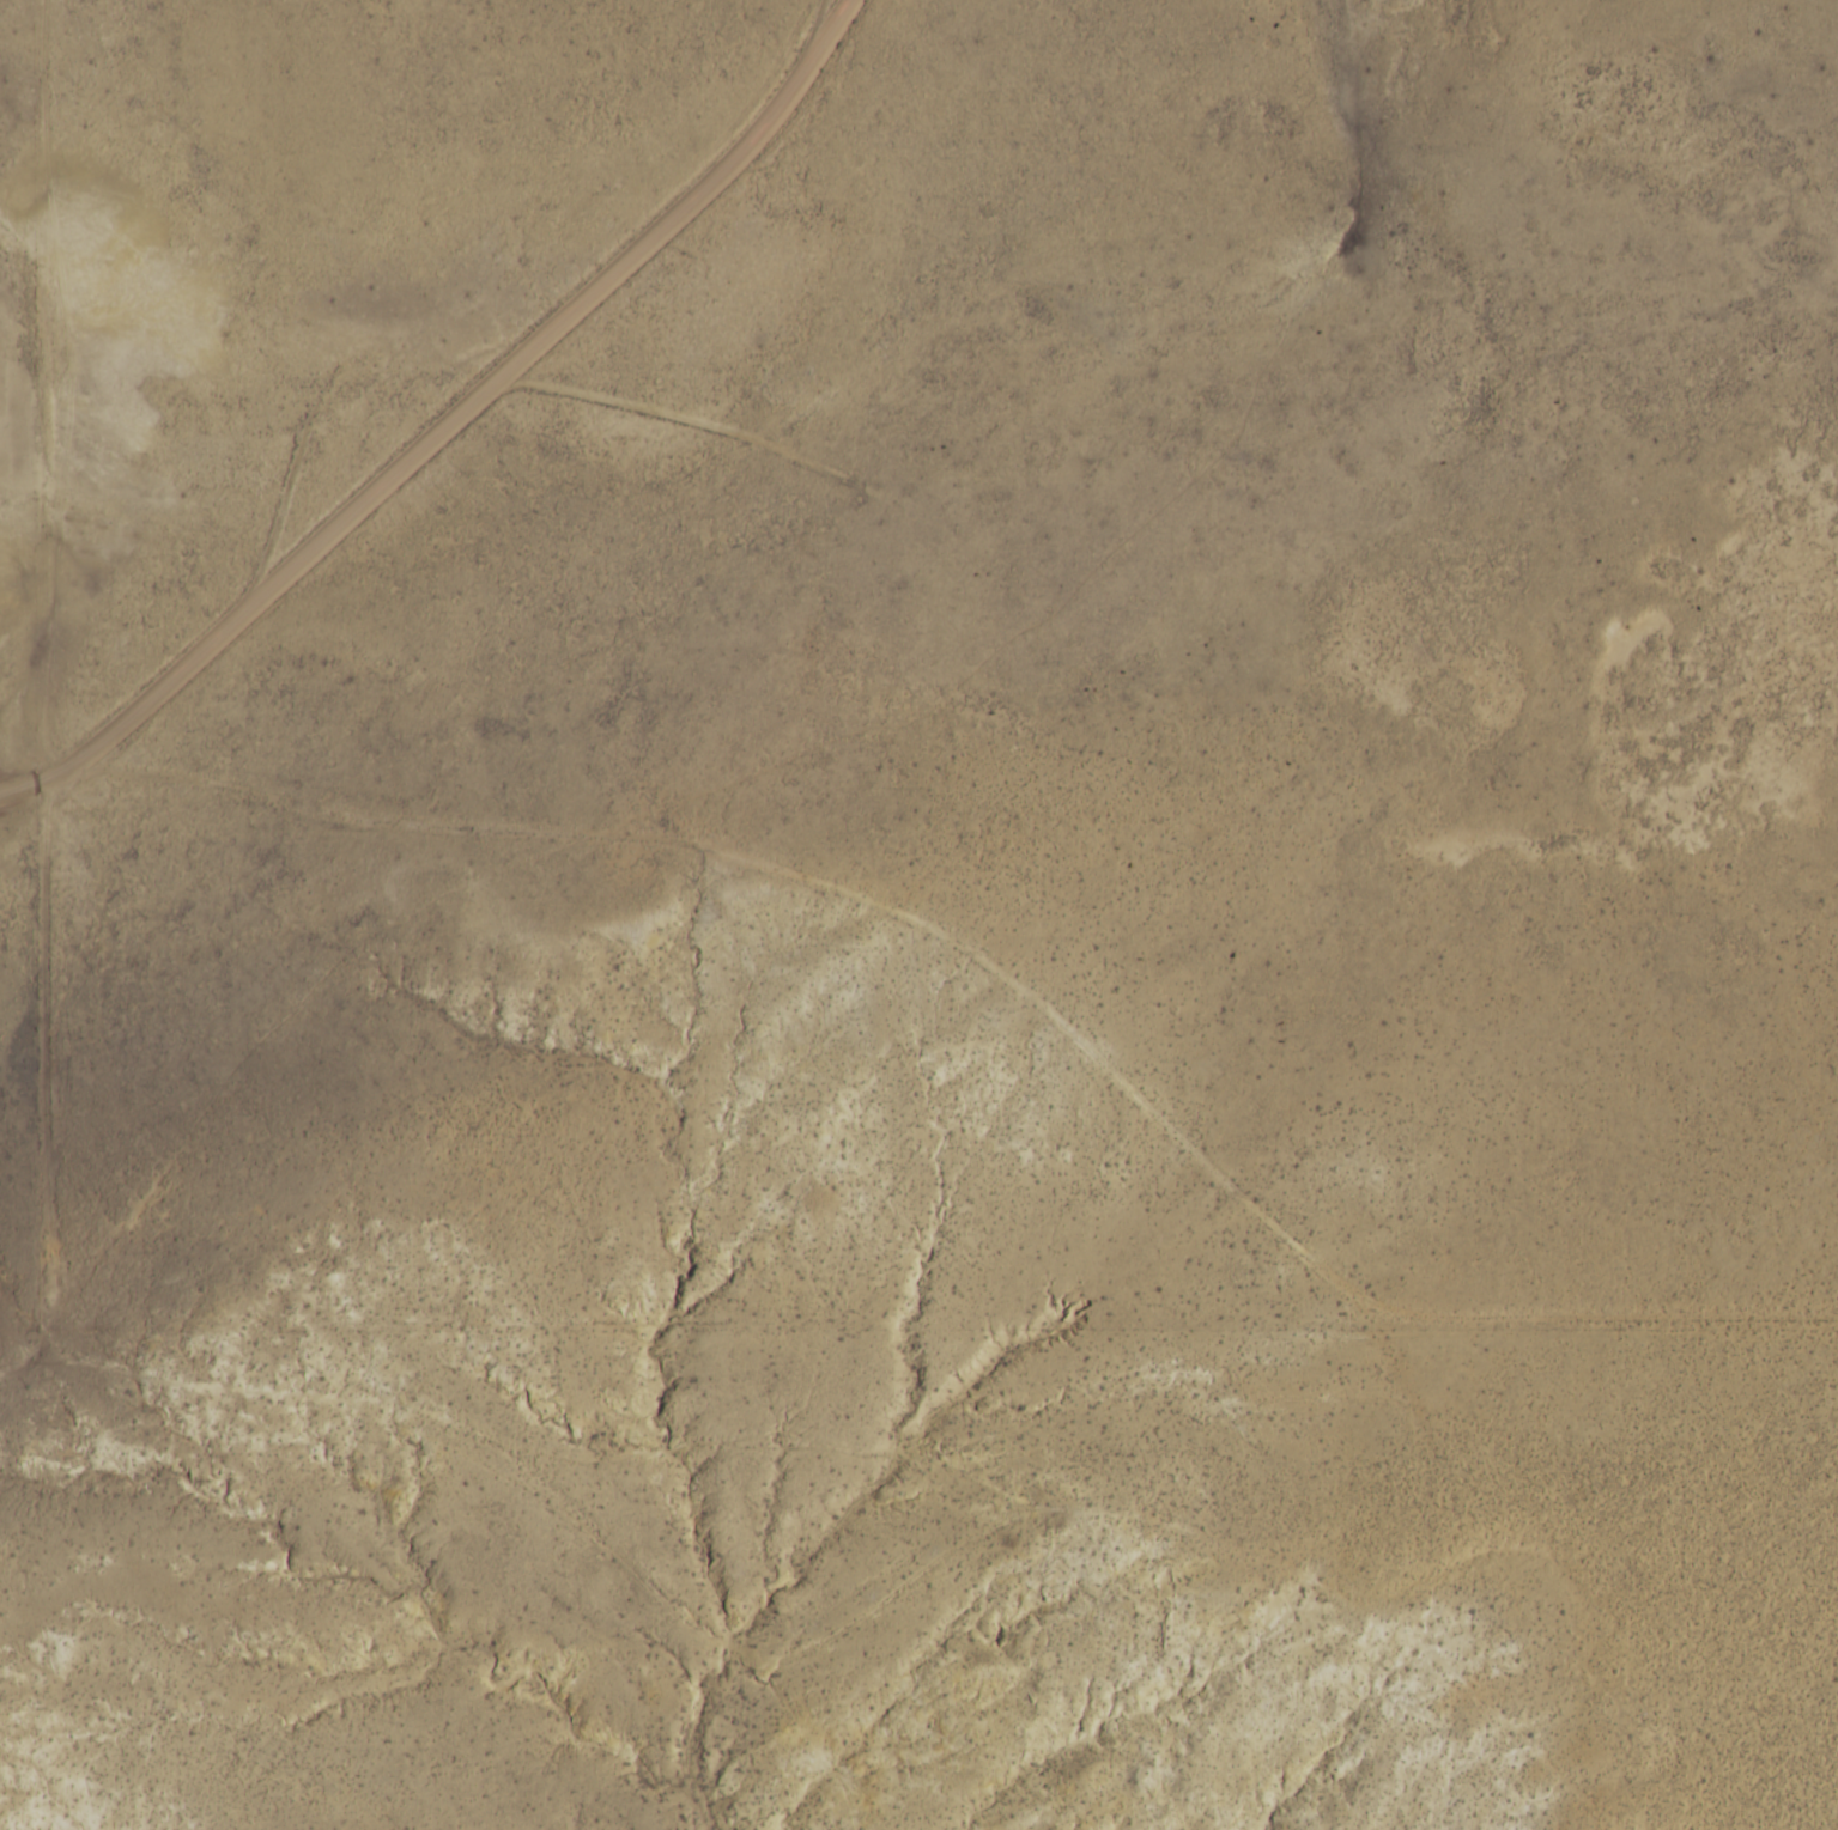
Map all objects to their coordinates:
road: (447, 422)
road: (989, 1030)

